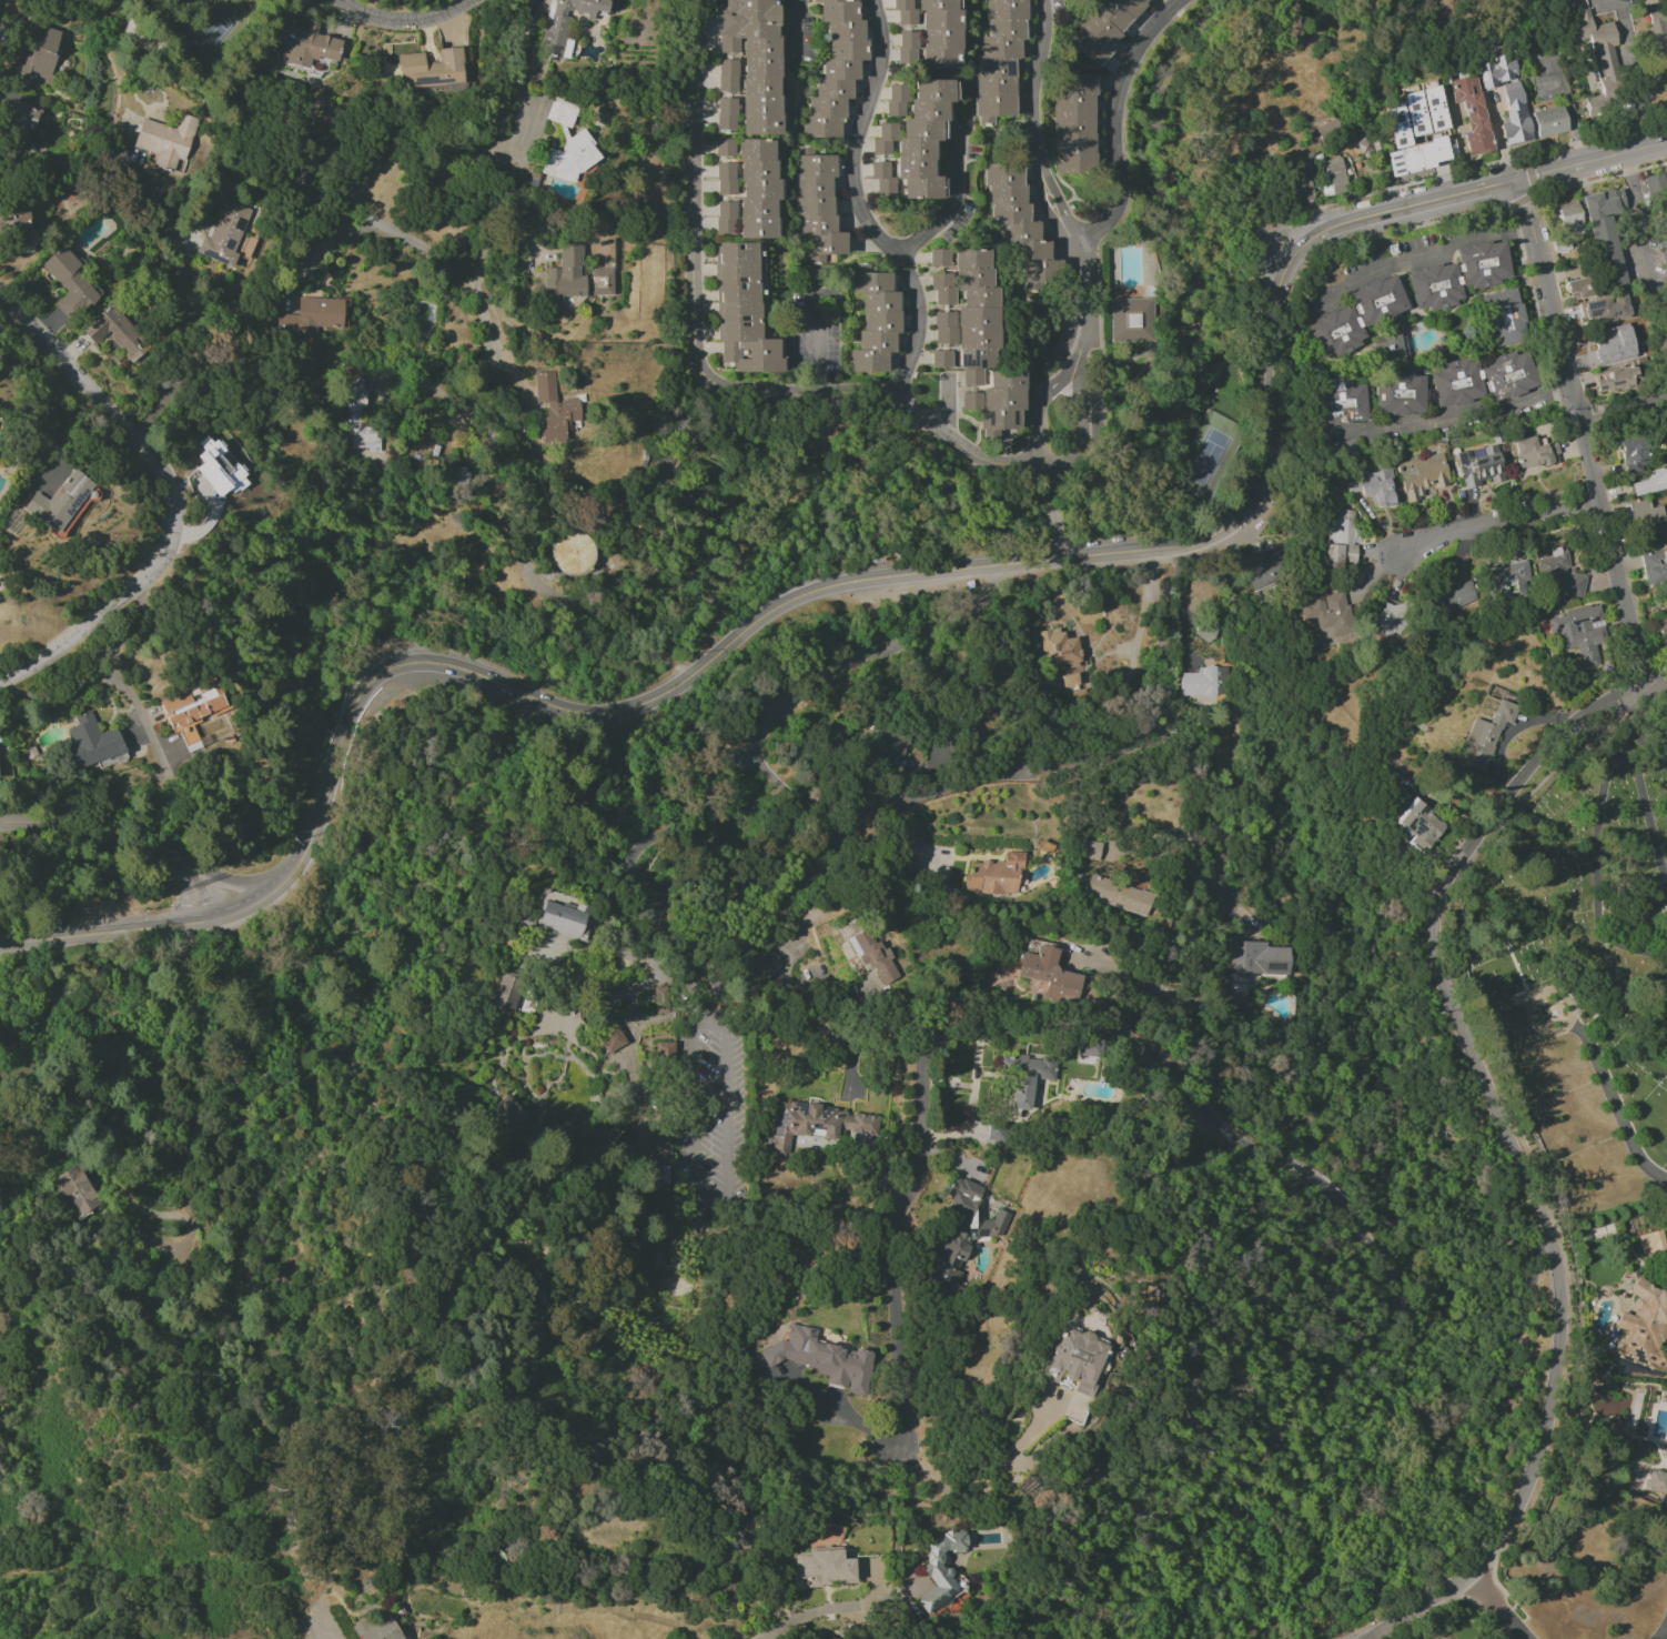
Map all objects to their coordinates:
building: (1650, 1)
building: (905, 12)
road: (401, 20)
building: (565, 22)
building: (1105, 26)
road: (797, 28)
building: (934, 36)
building: (305, 43)
building: (37, 52)
building: (1663, 52)
building: (999, 58)
building: (755, 59)
building: (1598, 60)
building: (836, 68)
building: (433, 69)
building: (1496, 70)
building: (726, 76)
building: (897, 100)
building: (1423, 111)
building: (726, 113)
building: (1471, 113)
building: (1514, 114)
building: (20, 115)
road: (1569, 115)
building: (1550, 121)
road: (1112, 124)
building: (1073, 125)
building: (919, 139)
building: (166, 141)
building: (567, 145)
building: (724, 148)
building: (1408, 148)
road: (1590, 159)
road: (1475, 167)
building: (1335, 175)
building: (882, 178)
building: (726, 179)
road: (1602, 179)
building: (1299, 185)
building: (758, 188)
road: (1050, 189)
road: (1536, 191)
building: (818, 205)
road: (860, 205)
road: (951, 209)
building: (1658, 213)
building: (726, 218)
building: (1569, 218)
building: (1017, 222)
road: (1276, 230)
building: (224, 232)
road: (485, 235)
road: (323, 245)
building: (1599, 248)
road: (1429, 251)
building: (938, 258)
building: (1482, 264)
building: (566, 273)
building: (600, 281)
building: (69, 282)
building: (1666, 284)
building: (1434, 286)
road: (179, 298)
building: (1377, 301)
building: (742, 310)
building: (1605, 310)
road: (4, 314)
building: (313, 315)
building: (1502, 318)
building: (875, 320)
building: (1132, 320)
building: (114, 332)
building: (1334, 333)
building: (977, 342)
building: (1599, 344)
road: (818, 346)
building: (1390, 346)
building: (112, 352)
building: (939, 359)
road: (701, 372)
building: (1506, 375)
building: (1616, 380)
building: (1398, 392)
road: (449, 401)
building: (1337, 402)
road: (48, 405)
building: (554, 409)
road: (950, 409)
road: (1043, 411)
road: (499, 412)
road: (1623, 413)
building: (357, 416)
road: (1449, 419)
road: (1080, 429)
road: (1580, 432)
building: (1534, 453)
building: (1635, 453)
building: (1481, 464)
building: (220, 469)
building: (1423, 476)
road: (1048, 481)
building: (1650, 482)
building: (1374, 486)
road: (168, 496)
building: (59, 502)
road: (1050, 513)
building: (1643, 514)
road: (1482, 530)
building: (1340, 537)
road: (1051, 545)
building: (573, 553)
road: (1012, 564)
building: (1654, 567)
building: (1263, 572)
building: (1559, 574)
building: (1508, 579)
building: (1452, 597)
building: (1327, 615)
building: (1392, 619)
building: (1661, 625)
building: (1579, 634)
road: (861, 651)
building: (1062, 655)
road: (676, 662)
road: (688, 668)
road: (1655, 673)
road: (115, 681)
building: (1198, 683)
road: (57, 693)
building: (192, 705)
road: (1627, 730)
building: (1484, 736)
building: (92, 742)
road: (1618, 742)
building: (891, 746)
road: (1067, 762)
road: (332, 770)
road: (1635, 770)
road: (1218, 814)
building: (1418, 825)
road: (675, 832)
road: (125, 846)
building: (1089, 849)
road: (764, 851)
building: (994, 875)
road: (233, 879)
road: (188, 894)
building: (1118, 895)
building: (649, 909)
building: (560, 916)
road: (185, 924)
road: (1600, 926)
building: (872, 956)
park: (1585, 961)
road: (674, 962)
building: (1253, 966)
building: (758, 971)
building: (1049, 974)
building: (505, 993)
road: (1534, 998)
park: (12, 1016)
road: (99, 1026)
building: (609, 1040)
building: (1089, 1047)
building: (665, 1049)
building: (1024, 1076)
road: (1174, 1078)
road: (1614, 1104)
building: (507, 1113)
parking lot: (711, 1123)
building: (815, 1124)
building: (661, 1148)
road: (120, 1152)
road: (1515, 1156)
building: (75, 1190)
road: (729, 1217)
building: (958, 1233)
building: (1653, 1243)
building: (1643, 1324)
building: (821, 1358)
building: (1077, 1359)
road: (983, 1479)
building: (1657, 1481)
park: (75, 1504)
building: (736, 1538)
building: (822, 1567)
building: (940, 1568)
road: (1495, 1605)
road: (838, 1610)
building: (377, 1629)
road: (1664, 1633)

